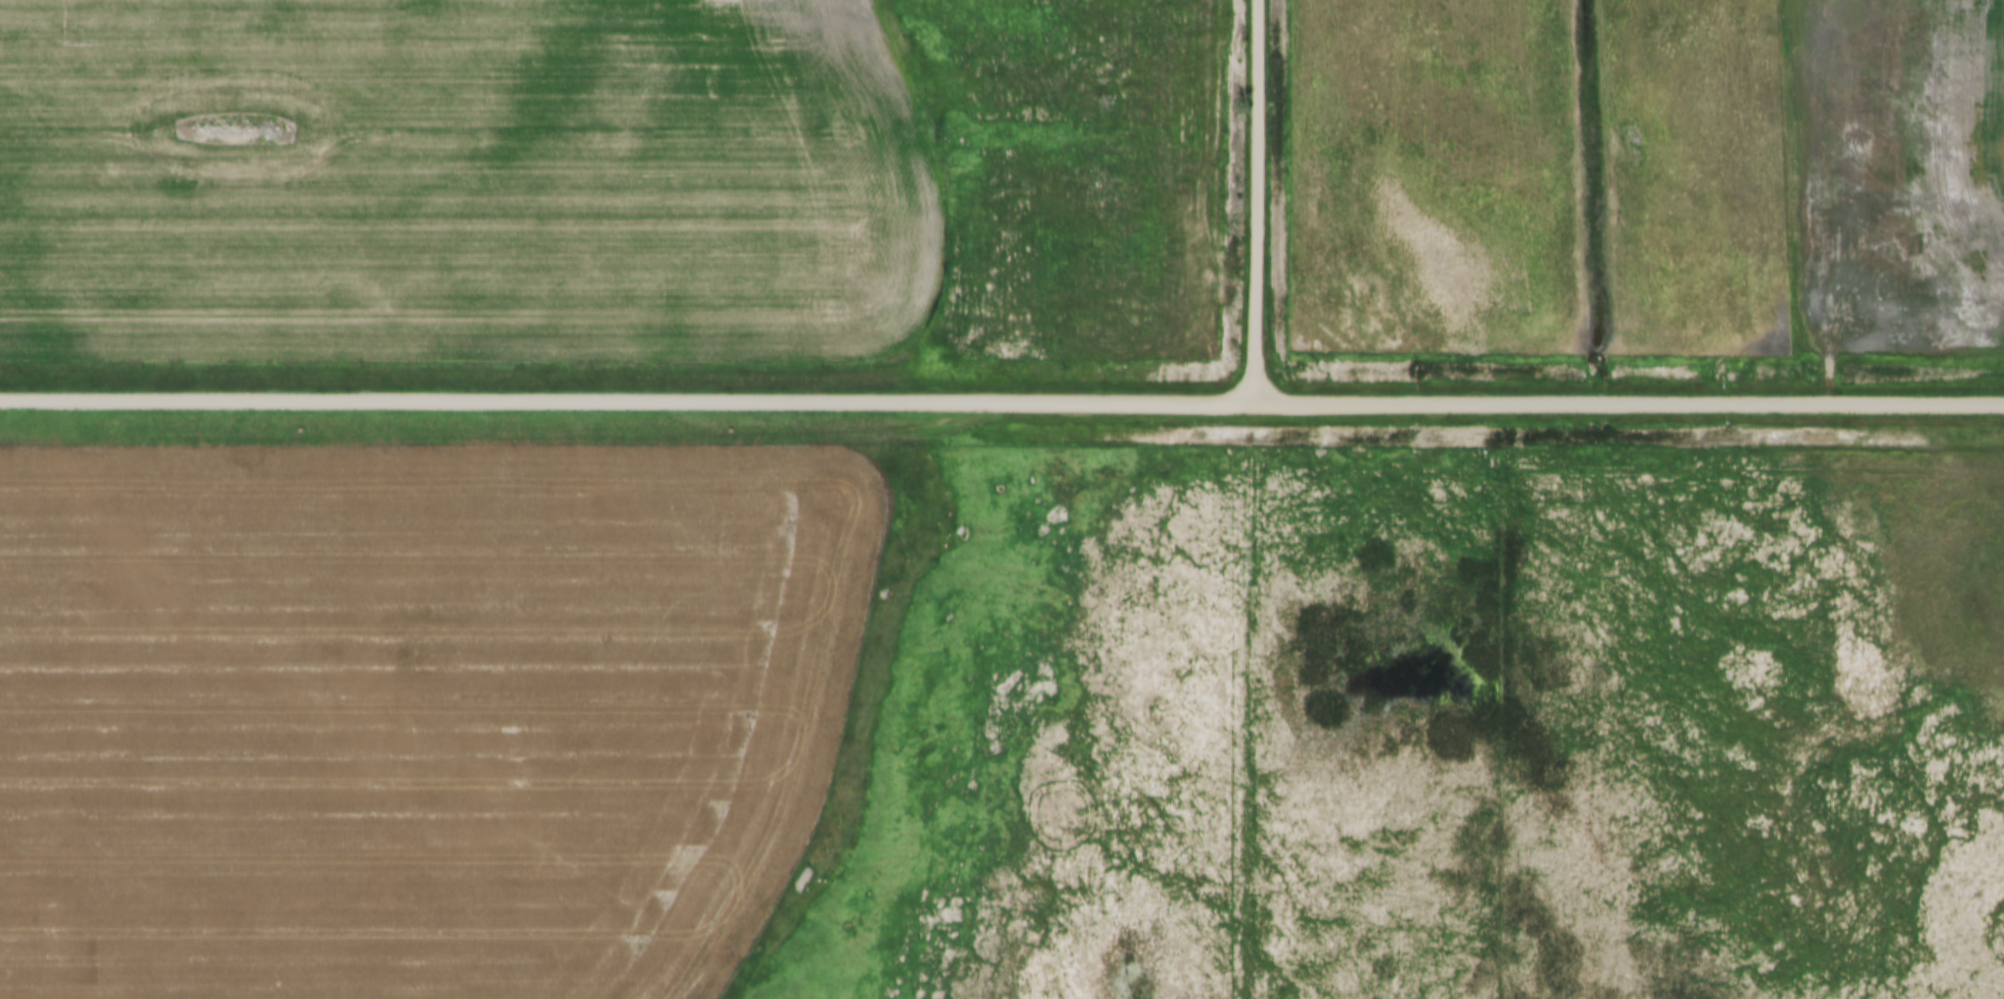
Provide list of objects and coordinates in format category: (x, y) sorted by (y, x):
road: (1256, 203)
road: (1001, 405)

